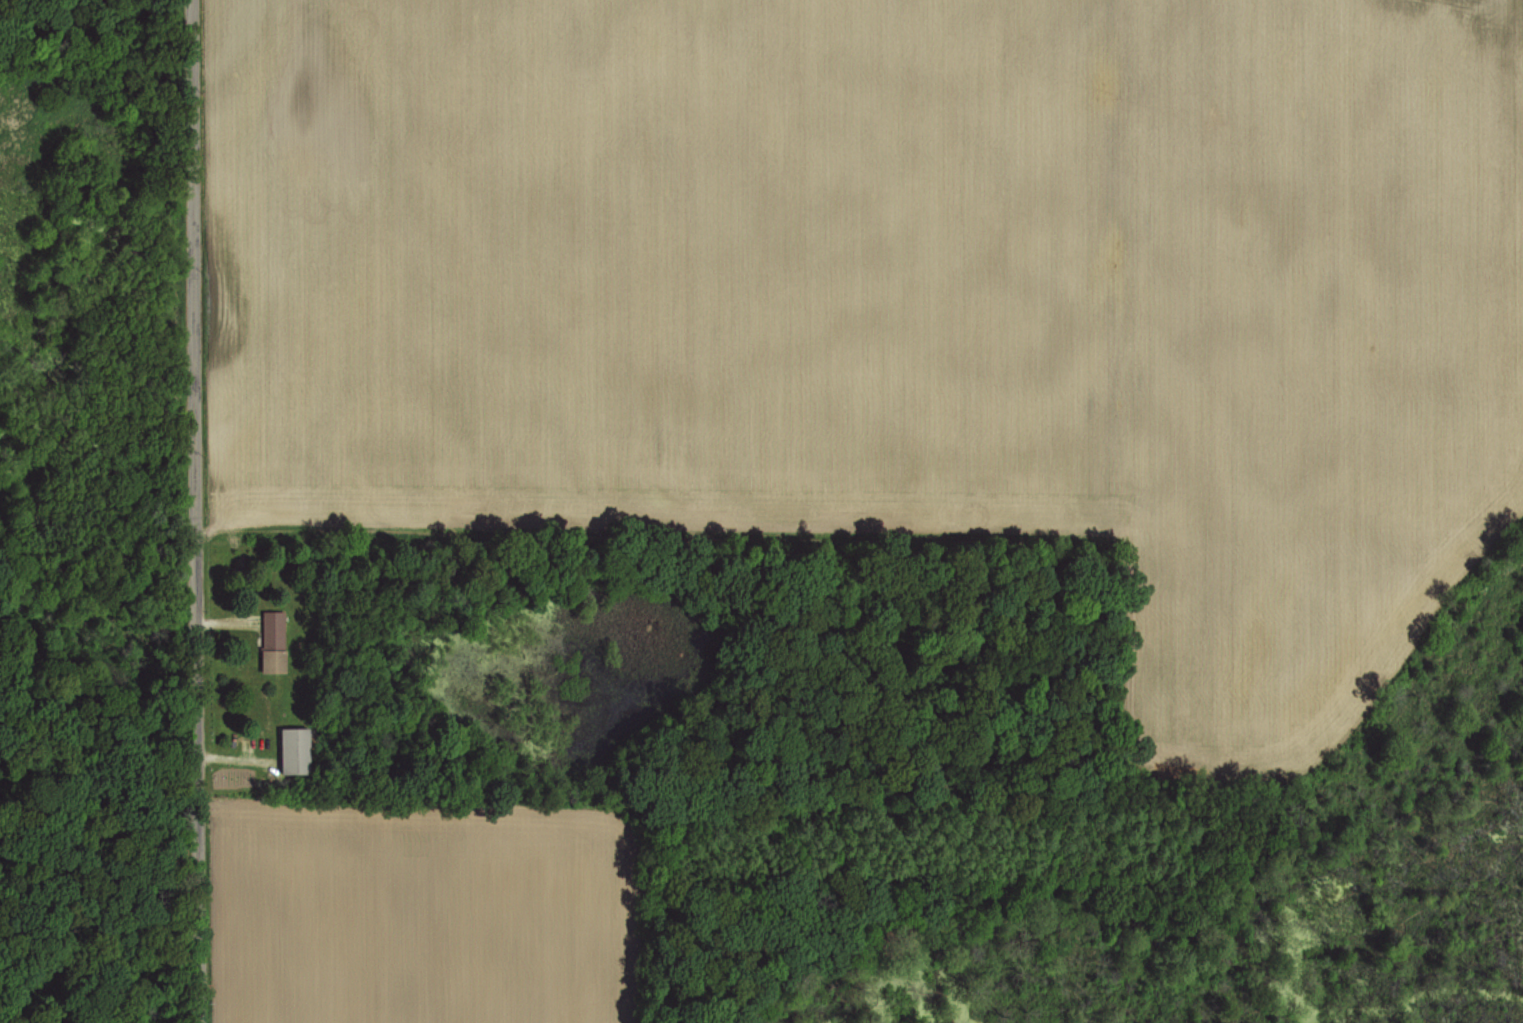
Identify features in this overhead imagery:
road: (187, 511)
building: (275, 642)
building: (298, 750)

